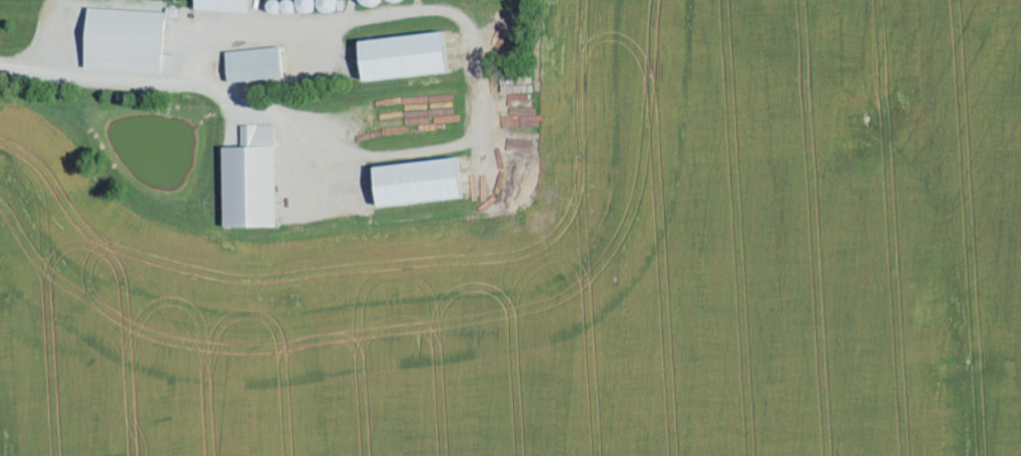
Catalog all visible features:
building: (222, 5)
building: (124, 43)
building: (400, 58)
building: (252, 65)
building: (415, 184)

